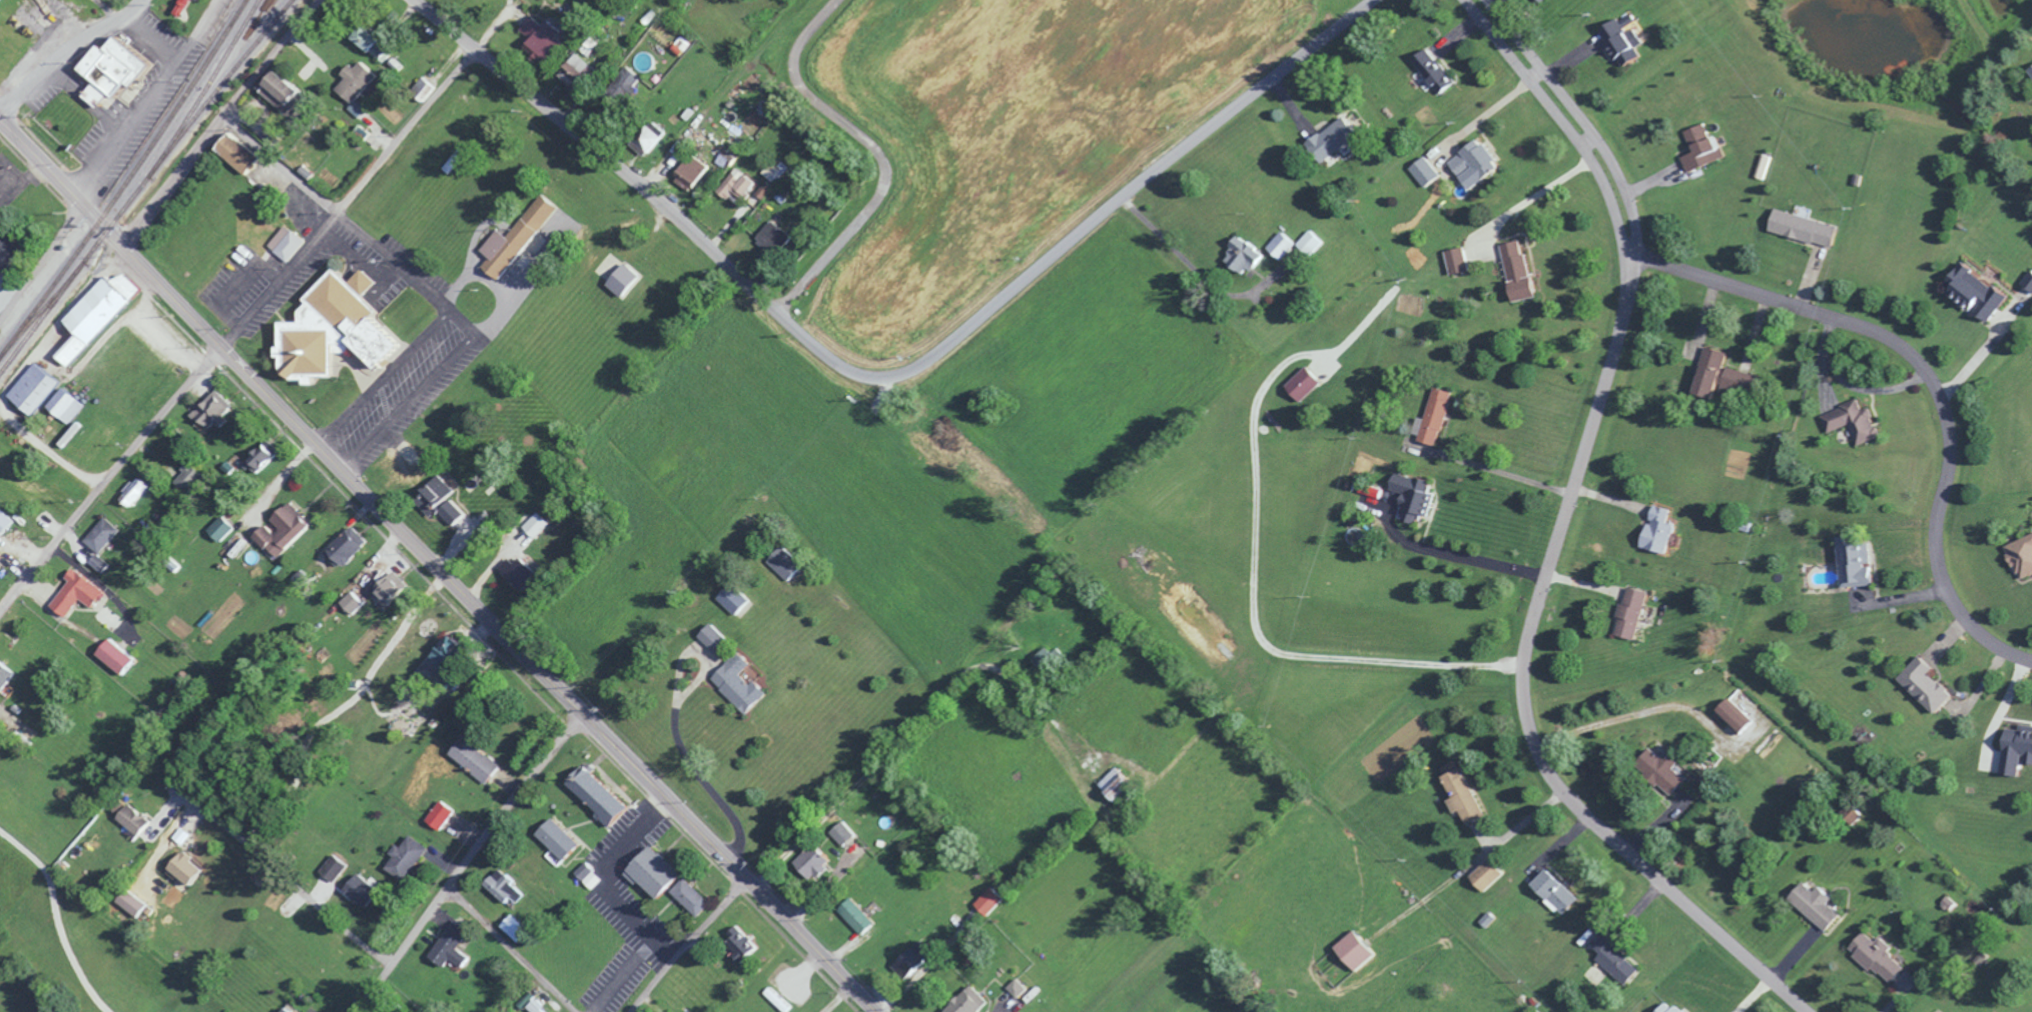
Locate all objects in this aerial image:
building: (1542, 0)
building: (184, 6)
road: (66, 16)
road: (151, 34)
building: (545, 38)
building: (1619, 41)
building: (377, 42)
building: (683, 45)
road: (65, 48)
building: (2030, 68)
building: (121, 70)
building: (1433, 71)
building: (583, 74)
building: (360, 85)
railway: (216, 89)
building: (290, 93)
road: (147, 99)
road: (1486, 115)
road: (1580, 119)
road: (1558, 120)
road: (217, 121)
building: (1326, 142)
building: (1699, 147)
road: (883, 152)
building: (244, 154)
road: (37, 159)
road: (279, 163)
building: (1470, 163)
building: (1421, 170)
building: (696, 174)
building: (748, 184)
railway: (137, 189)
road: (1536, 193)
road: (347, 199)
building: (1799, 227)
building: (521, 238)
building: (289, 242)
building: (1292, 244)
building: (11, 252)
building: (1241, 255)
building: (1455, 256)
road: (359, 258)
road: (41, 264)
building: (1512, 269)
road: (1195, 271)
road: (409, 273)
building: (628, 279)
road: (525, 281)
building: (1971, 292)
road: (7, 298)
building: (103, 312)
road: (116, 324)
building: (342, 326)
road: (1973, 362)
road: (18, 372)
road: (887, 372)
building: (1704, 372)
road: (381, 378)
road: (1927, 381)
building: (1298, 383)
building: (39, 387)
building: (69, 404)
road: (409, 405)
building: (216, 409)
building: (1430, 417)
building: (1850, 421)
building: (266, 455)
road: (1507, 470)
road: (107, 475)
building: (190, 475)
building: (1409, 496)
building: (132, 500)
building: (453, 504)
building: (6, 520)
building: (541, 524)
building: (224, 528)
building: (288, 529)
building: (1653, 530)
building: (106, 534)
building: (352, 546)
building: (2020, 554)
road: (1460, 555)
building: (1851, 562)
building: (103, 563)
building: (791, 564)
building: (520, 571)
building: (81, 592)
building: (391, 594)
building: (739, 598)
building: (355, 601)
road: (472, 607)
building: (1627, 612)
building: (720, 638)
building: (120, 655)
building: (6, 674)
building: (744, 683)
building: (1921, 684)
road: (1523, 685)
road: (1998, 711)
road: (1628, 714)
building: (1730, 715)
road: (676, 728)
building: (2013, 748)
building: (480, 759)
road: (916, 765)
building: (1656, 770)
building: (604, 796)
building: (1459, 796)
building: (444, 814)
building: (138, 819)
building: (840, 833)
building: (562, 838)
building: (409, 858)
road: (464, 861)
building: (809, 862)
building: (189, 867)
building: (337, 867)
building: (1485, 878)
building: (671, 879)
road: (612, 882)
road: (291, 883)
building: (510, 887)
building: (365, 890)
building: (1551, 891)
building: (986, 901)
building: (134, 902)
building: (1811, 905)
building: (852, 915)
road: (53, 920)
building: (519, 928)
building: (747, 943)
building: (455, 944)
road: (685, 944)
road: (509, 948)
building: (1349, 950)
building: (1873, 956)
building: (905, 961)
building: (1612, 961)
building: (1015, 987)
building: (964, 1001)
building: (1664, 1007)
building: (293, 1009)

